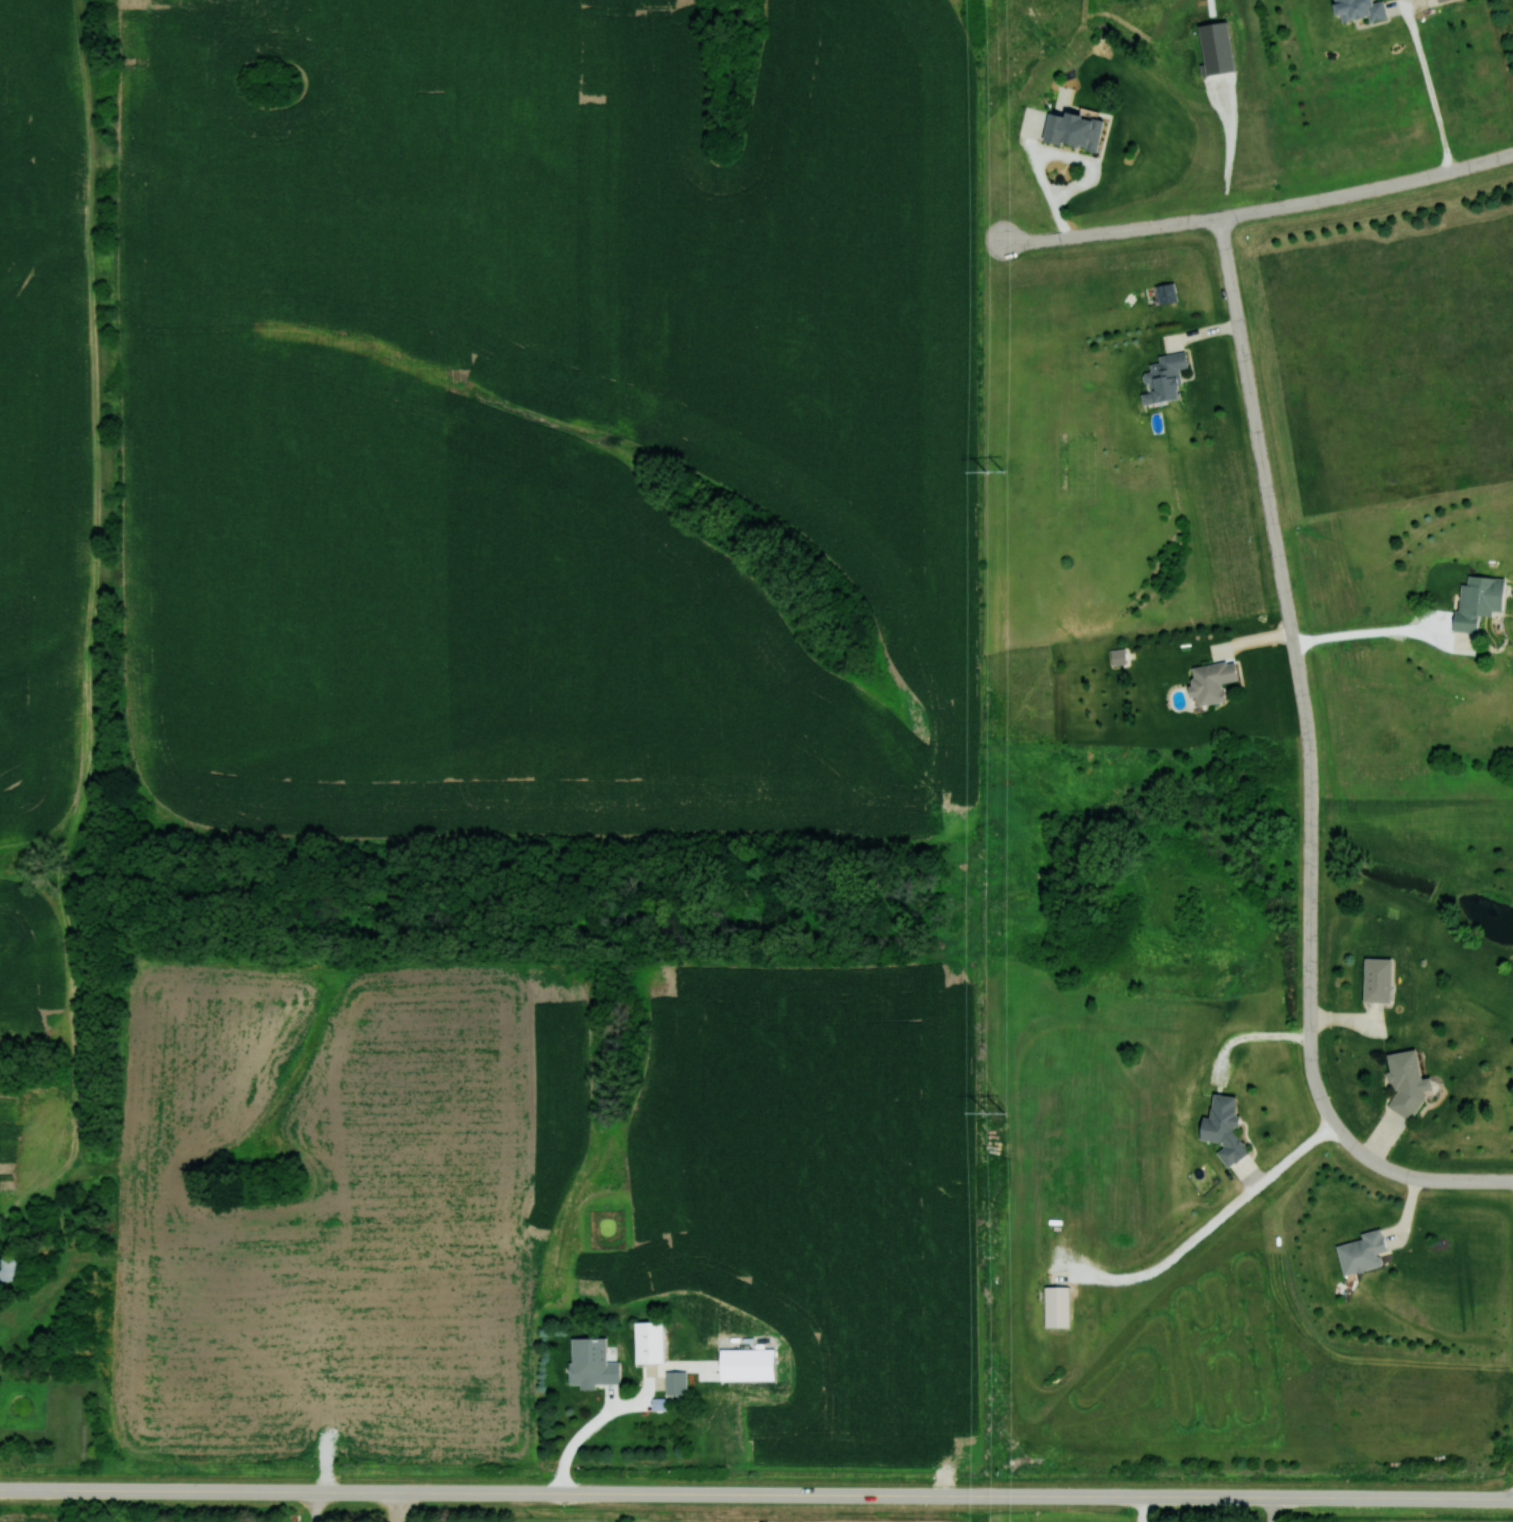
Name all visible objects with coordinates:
building: (1436, 0)
building: (1356, 8)
road: (1432, 87)
building: (1068, 129)
road: (1257, 211)
building: (1160, 377)
power tower: (992, 474)
building: (1475, 600)
road: (1383, 633)
building: (1115, 657)
building: (1207, 681)
road: (1308, 768)
building: (1373, 980)
road: (1251, 1037)
building: (1402, 1081)
power tower: (994, 1116)
building: (1219, 1129)
road: (1208, 1228)
building: (1357, 1252)
building: (14, 1269)
building: (1062, 1307)
building: (656, 1343)
building: (599, 1373)
building: (679, 1383)
road: (578, 1444)
road: (491, 1492)
road: (1247, 1496)
road: (1146, 1509)
road: (1273, 1509)

